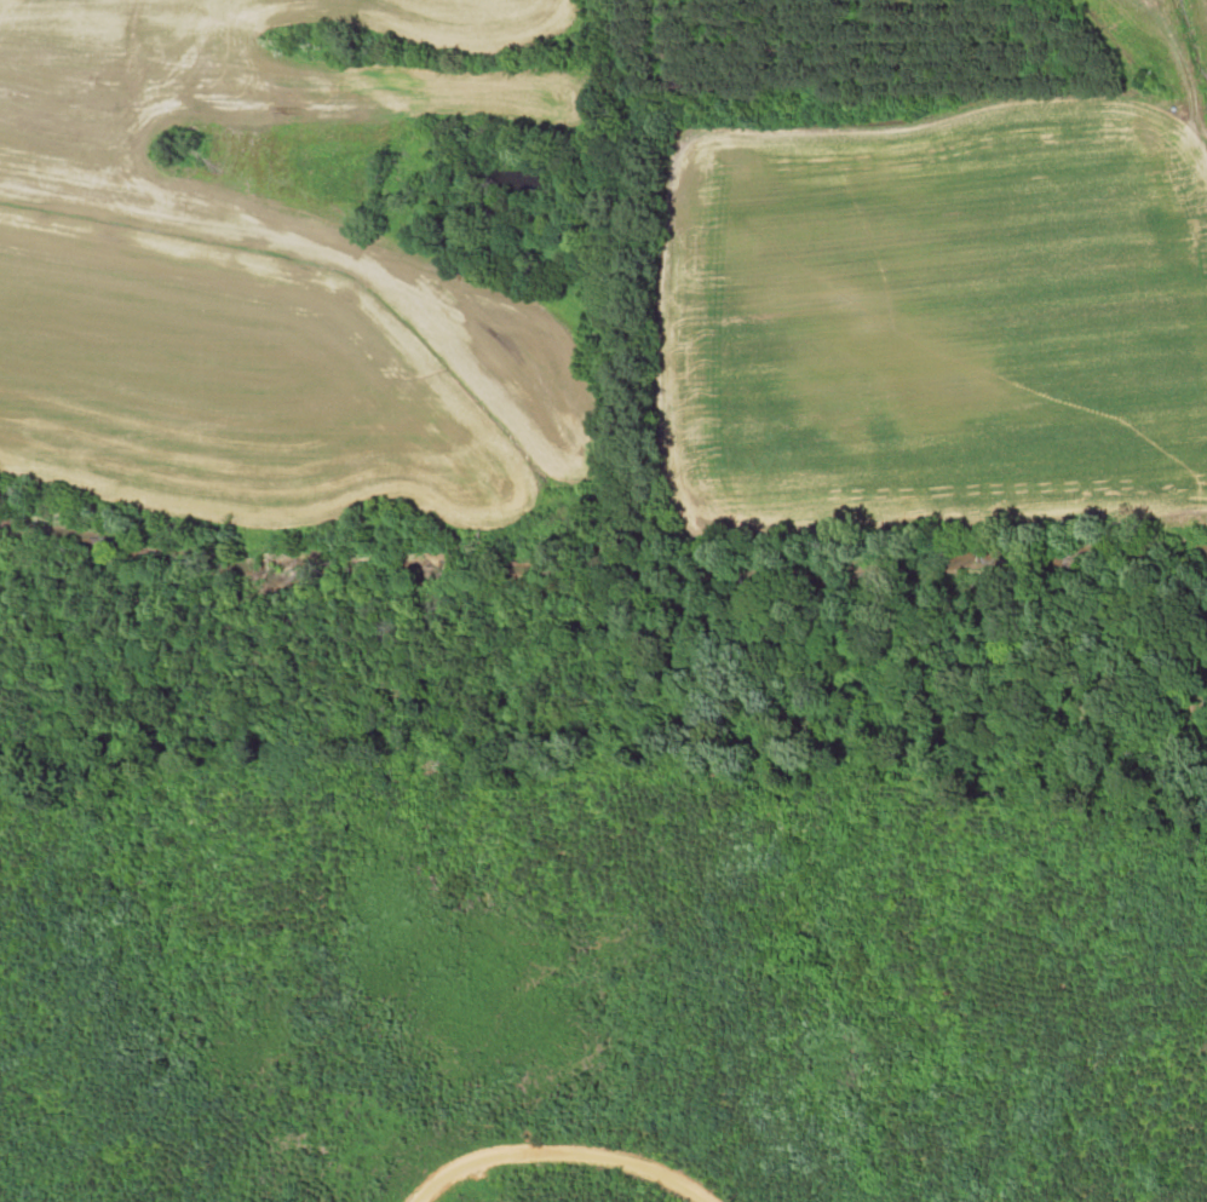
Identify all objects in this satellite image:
road: (563, 1145)

